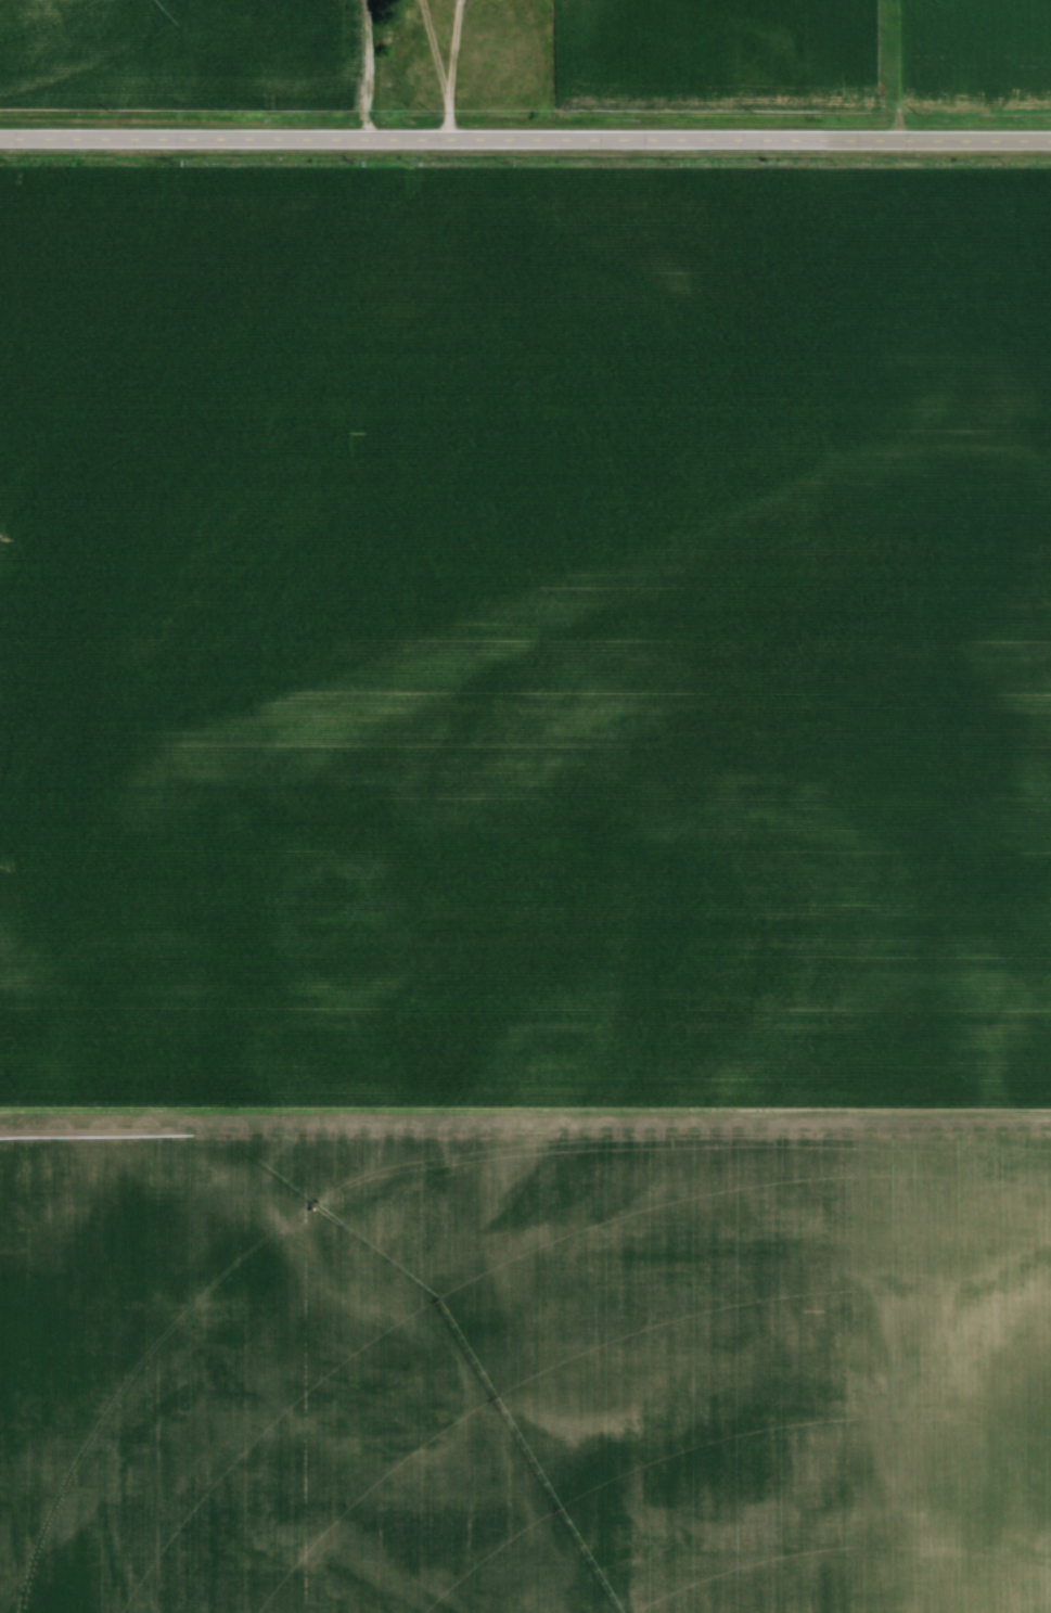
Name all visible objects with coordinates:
road: (432, 50)
road: (452, 50)
road: (447, 119)
road: (525, 140)

